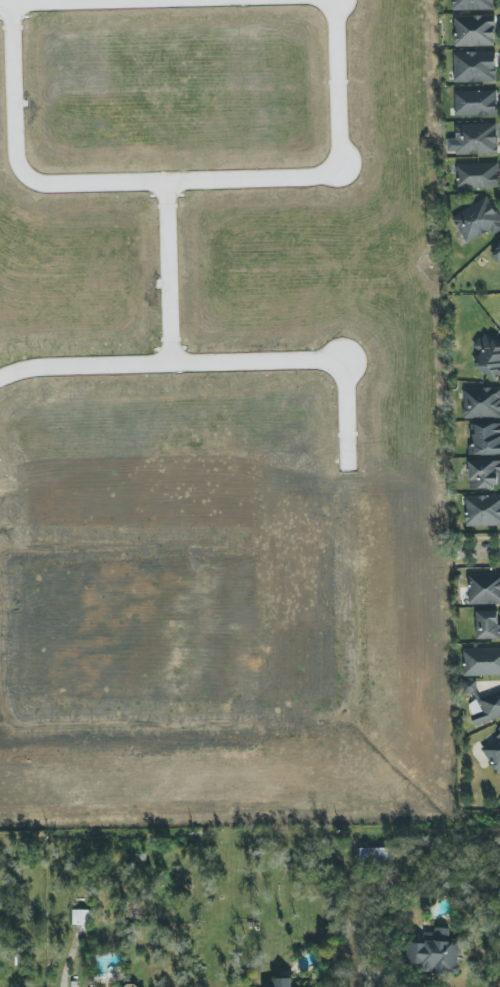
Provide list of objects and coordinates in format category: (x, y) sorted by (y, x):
road: (38, 0)
road: (6, 1)
building: (473, 5)
building: (474, 31)
building: (474, 67)
building: (475, 103)
building: (473, 139)
building: (477, 176)
road: (180, 179)
building: (477, 221)
building: (498, 258)
road: (168, 271)
building: (487, 355)
road: (226, 362)
building: (481, 403)
building: (486, 439)
building: (482, 511)
road: (485, 549)
building: (484, 589)
building: (487, 625)
building: (481, 662)
building: (485, 710)
building: (499, 727)
building: (493, 754)
building: (373, 854)
building: (82, 918)
building: (438, 952)
road: (379, 978)
building: (284, 982)

